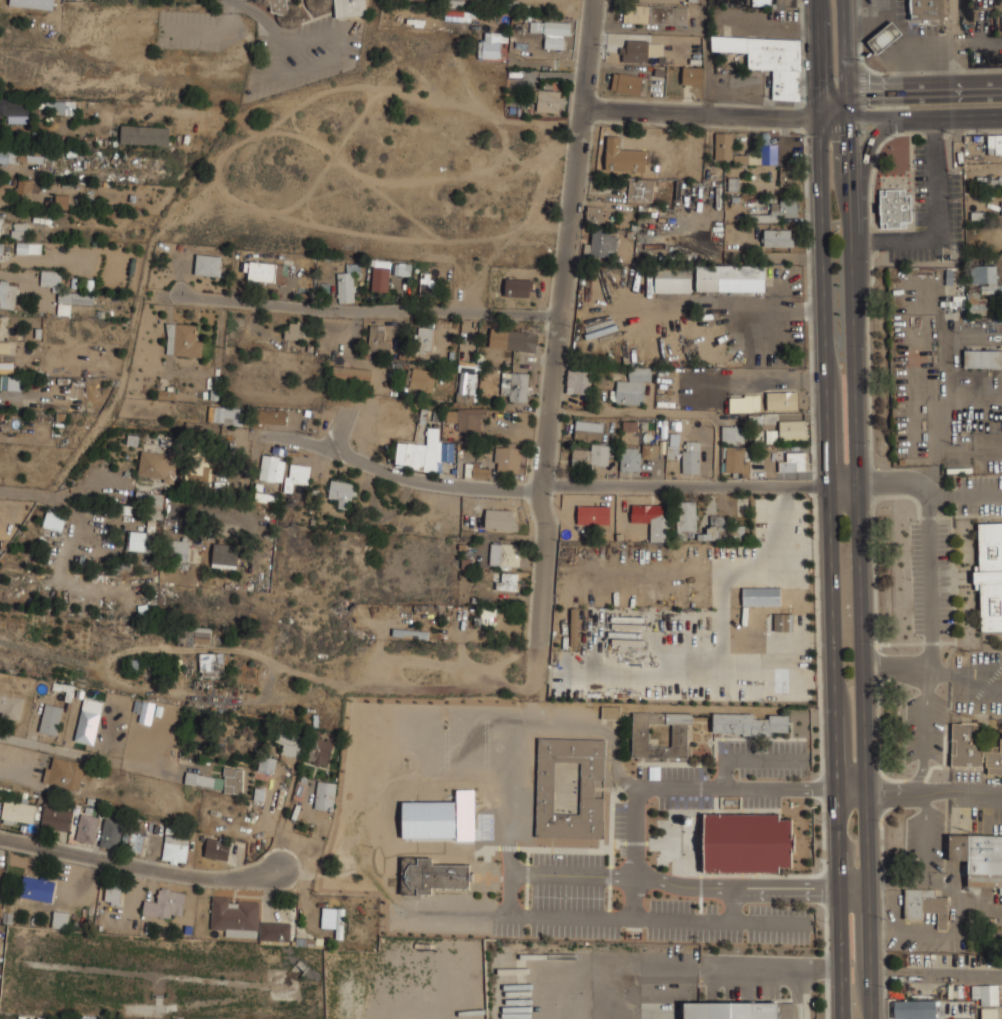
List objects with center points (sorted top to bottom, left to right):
building: (423, 0)
building: (693, 0)
road: (227, 1)
building: (33, 3)
building: (338, 6)
building: (927, 9)
building: (284, 12)
road: (256, 13)
building: (456, 14)
building: (1001, 14)
building: (655, 15)
building: (552, 31)
building: (883, 38)
building: (491, 43)
road: (957, 44)
building: (641, 51)
road: (705, 56)
road: (332, 58)
road: (820, 59)
road: (845, 59)
building: (692, 76)
building: (626, 83)
building: (786, 90)
road: (906, 91)
traffic signals: (847, 94)
building: (550, 101)
building: (55, 106)
building: (15, 109)
road: (703, 111)
road: (911, 117)
traffic signals: (822, 119)
traffic signals: (847, 119)
building: (144, 134)
building: (995, 143)
building: (727, 149)
building: (8, 154)
building: (37, 154)
building: (758, 156)
building: (624, 158)
building: (787, 175)
road: (863, 182)
building: (990, 182)
building: (24, 185)
building: (733, 185)
building: (2, 190)
building: (640, 190)
building: (64, 199)
building: (783, 207)
building: (894, 208)
building: (1001, 208)
building: (595, 213)
building: (0, 223)
building: (19, 229)
building: (778, 237)
building: (603, 242)
road: (567, 245)
building: (28, 248)
building: (1, 251)
building: (207, 263)
building: (401, 269)
building: (262, 270)
building: (380, 275)
building: (726, 275)
building: (983, 275)
building: (50, 278)
building: (672, 279)
building: (424, 282)
building: (346, 286)
building: (518, 286)
building: (991, 289)
building: (8, 292)
building: (75, 297)
building: (976, 304)
road: (773, 309)
road: (370, 310)
building: (0, 320)
building: (0, 322)
building: (295, 330)
building: (376, 336)
building: (182, 339)
building: (512, 339)
building: (425, 341)
building: (735, 341)
building: (4, 347)
building: (982, 359)
building: (351, 373)
building: (420, 379)
building: (578, 380)
building: (10, 382)
building: (515, 384)
building: (466, 386)
building: (631, 386)
building: (782, 399)
building: (744, 402)
road: (666, 412)
building: (224, 413)
building: (466, 416)
building: (269, 417)
building: (630, 426)
building: (588, 428)
building: (791, 429)
building: (732, 433)
building: (771, 437)
building: (419, 452)
building: (592, 454)
building: (635, 456)
building: (690, 456)
building: (507, 459)
building: (737, 461)
building: (793, 461)
building: (199, 465)
building: (158, 466)
building: (272, 469)
building: (476, 471)
road: (398, 476)
building: (296, 479)
road: (699, 485)
building: (341, 493)
road: (32, 495)
building: (593, 515)
building: (686, 516)
building: (53, 519)
building: (500, 519)
building: (653, 520)
building: (147, 521)
building: (714, 529)
road: (930, 546)
building: (178, 550)
building: (504, 555)
building: (224, 556)
road: (544, 567)
road: (832, 568)
road: (860, 568)
building: (990, 576)
building: (507, 582)
building: (761, 596)
building: (486, 617)
building: (783, 622)
building: (575, 627)
building: (202, 635)
building: (186, 638)
building: (211, 664)
road: (894, 669)
road: (965, 675)
building: (11, 702)
building: (611, 712)
building: (50, 719)
building: (88, 721)
building: (749, 724)
road: (922, 734)
building: (639, 735)
building: (290, 743)
building: (974, 748)
road: (58, 749)
building: (319, 751)
road: (750, 758)
road: (17, 762)
building: (267, 764)
building: (64, 773)
parking lot: (738, 775)
building: (204, 780)
building: (233, 780)
road: (670, 787)
road: (852, 787)
building: (545, 789)
road: (963, 791)
road: (887, 794)
building: (324, 795)
road: (917, 795)
building: (17, 812)
building: (55, 818)
building: (87, 828)
building: (154, 829)
building: (110, 834)
building: (454, 841)
building: (132, 842)
building: (749, 843)
building: (175, 849)
building: (217, 849)
building: (979, 858)
road: (921, 859)
road: (136, 865)
building: (0, 873)
road: (572, 873)
building: (431, 875)
road: (681, 885)
road: (729, 887)
road: (854, 887)
building: (37, 889)
building: (113, 894)
road: (509, 894)
building: (165, 904)
parking lot: (627, 905)
building: (925, 905)
building: (235, 917)
building: (60, 920)
building: (334, 920)
road: (653, 920)
building: (274, 931)
building: (986, 994)
building: (915, 1009)
building: (731, 1010)
building: (989, 1013)
building: (969, 1018)

